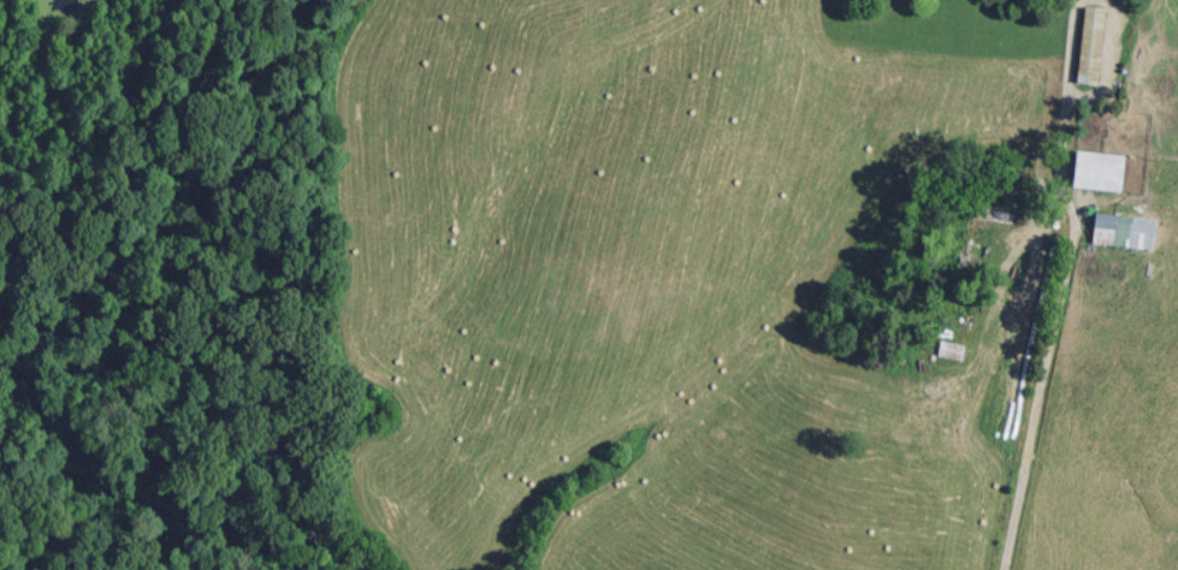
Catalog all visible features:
building: (1091, 42)
building: (1106, 167)
building: (993, 210)
building: (1117, 226)
building: (1032, 250)
road: (1052, 286)
building: (965, 304)
building: (951, 348)

